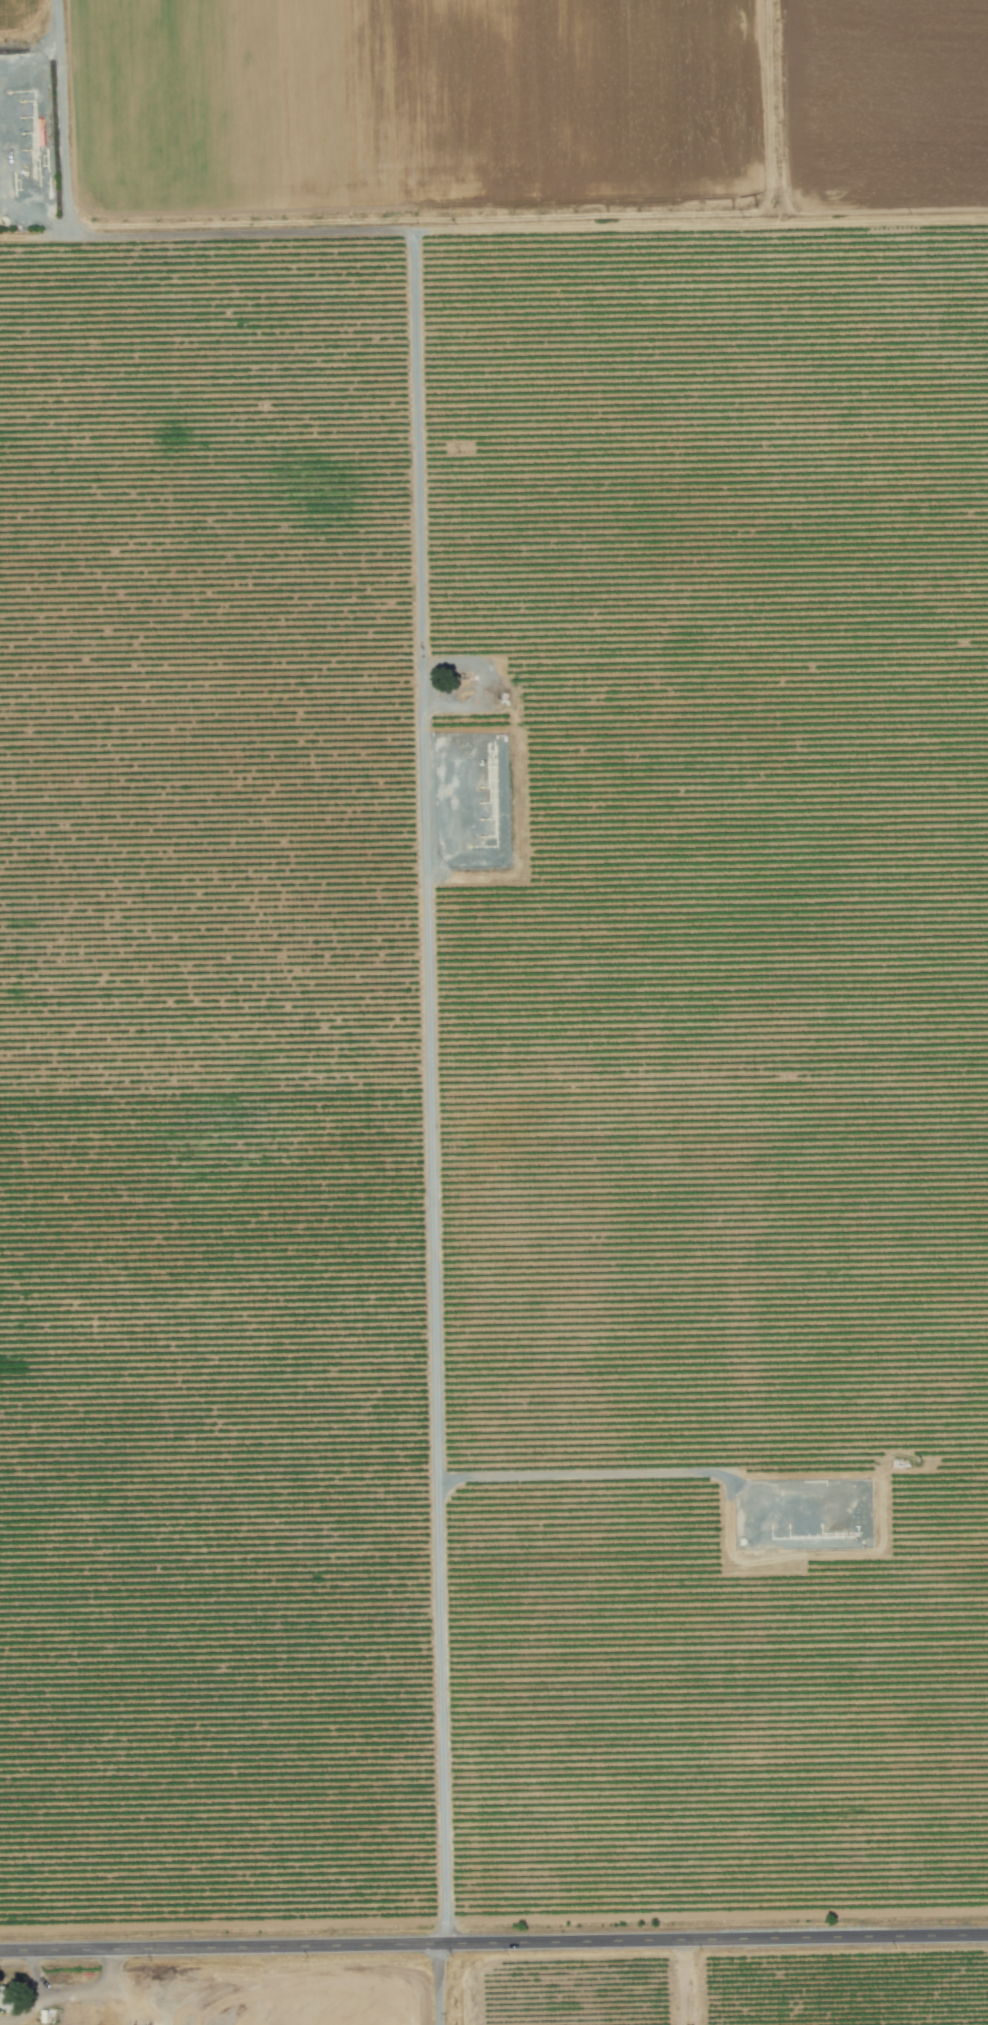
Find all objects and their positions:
road: (62, 118)
road: (699, 223)
road: (426, 883)
road: (579, 1474)
road: (494, 1945)
road: (35, 1977)
road: (436, 1985)
road: (67, 1994)

